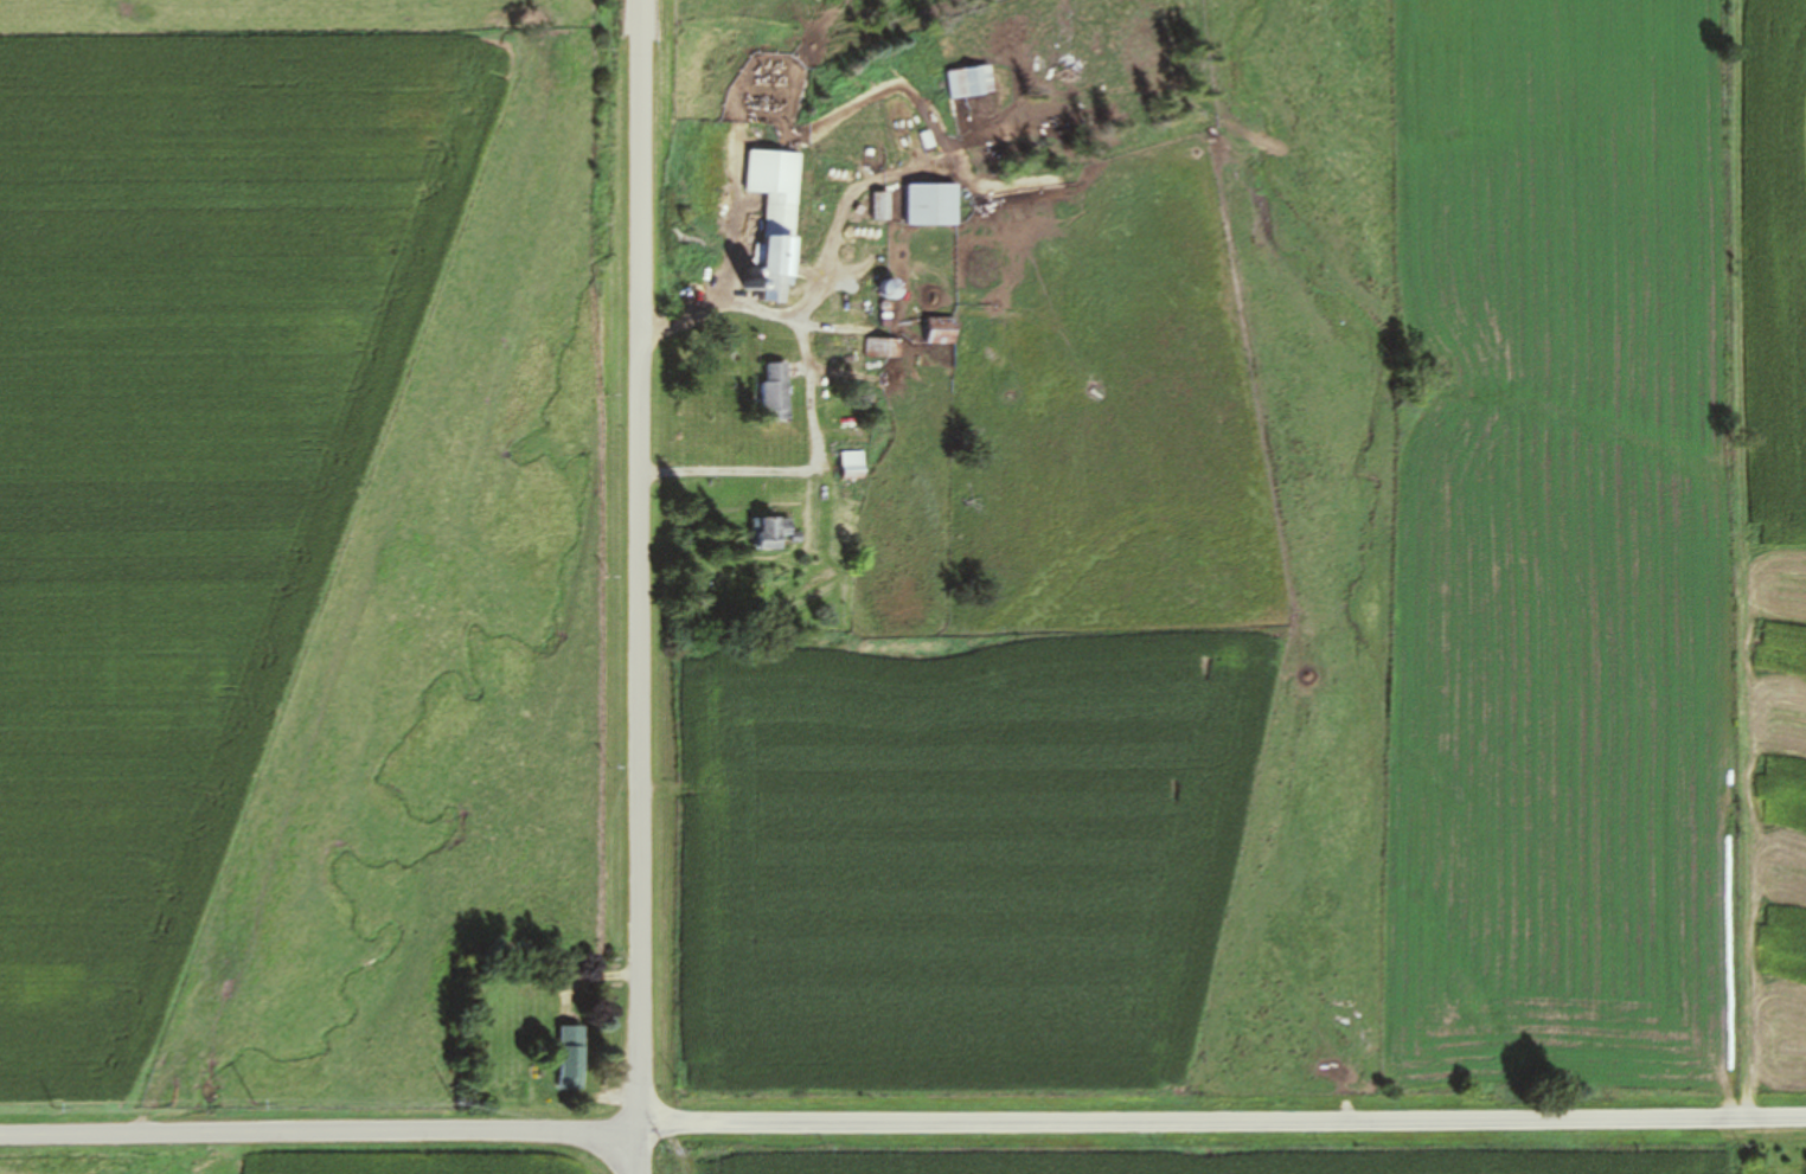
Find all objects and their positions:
building: (958, 84)
building: (933, 205)
building: (777, 217)
road: (840, 220)
road: (735, 230)
building: (773, 393)
road: (809, 398)
building: (852, 462)
building: (766, 532)
building: (795, 538)
road: (641, 566)
building: (572, 1056)
road: (1223, 1122)
road: (320, 1134)
road: (640, 1154)

